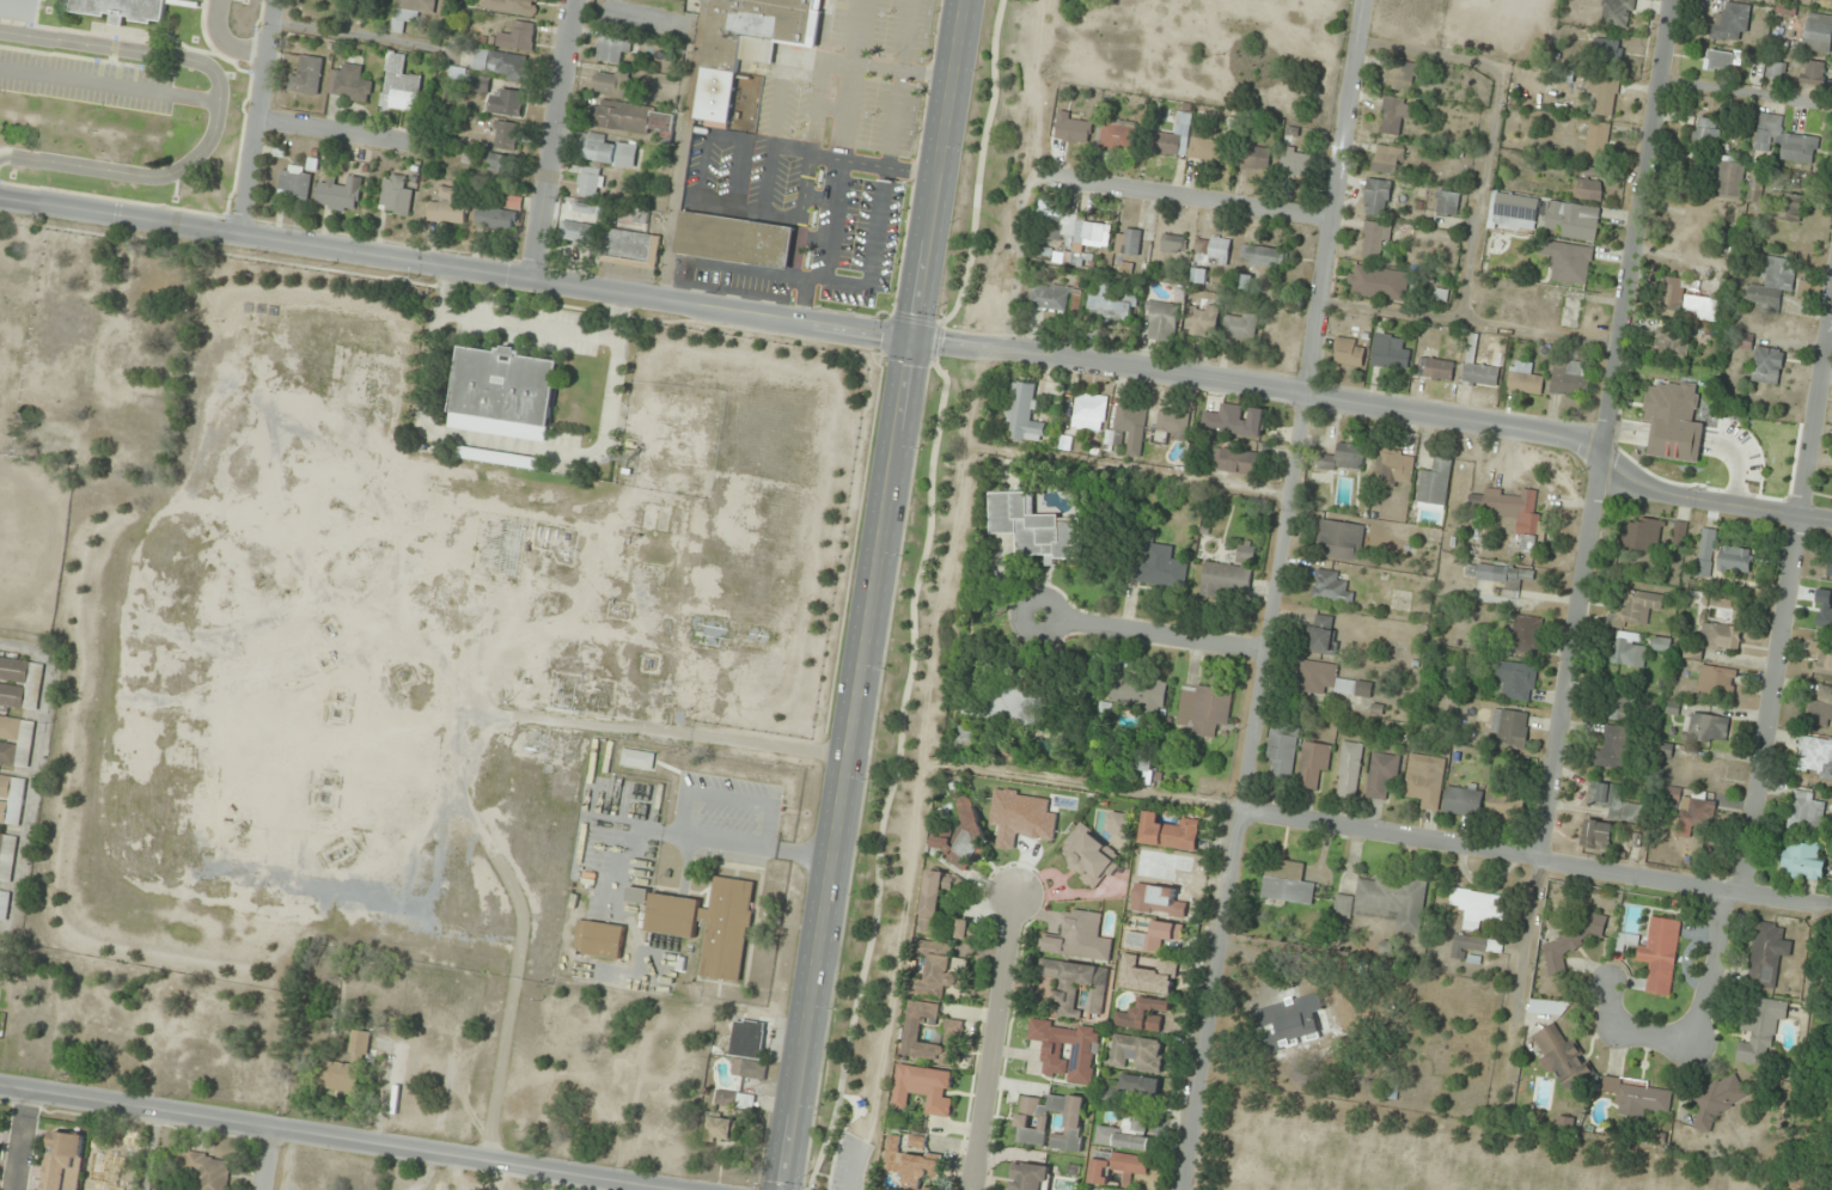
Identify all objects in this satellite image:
building: (1825, 0)
building: (513, 6)
building: (16, 10)
building: (122, 10)
building: (410, 12)
building: (1617, 13)
building: (1730, 24)
building: (1818, 32)
building: (518, 37)
road: (224, 43)
building: (750, 44)
building: (612, 49)
building: (1607, 49)
building: (1722, 60)
building: (501, 65)
building: (1776, 71)
building: (306, 73)
building: (1813, 73)
building: (457, 74)
building: (1400, 75)
building: (350, 84)
building: (478, 84)
building: (612, 84)
building: (399, 85)
building: (1605, 98)
building: (507, 102)
road: (218, 108)
road: (259, 115)
building: (1394, 115)
building: (633, 118)
building: (1070, 130)
road: (337, 133)
building: (1706, 133)
building: (1118, 135)
building: (506, 136)
road: (560, 138)
building: (1598, 138)
building: (1784, 141)
building: (1171, 144)
building: (1208, 149)
building: (610, 151)
building: (1254, 157)
building: (1388, 160)
building: (1296, 163)
building: (499, 164)
road: (979, 166)
building: (1729, 181)
building: (294, 183)
building: (590, 183)
building: (1589, 191)
building: (340, 194)
building: (395, 196)
building: (1376, 197)
road: (1190, 201)
building: (1447, 205)
building: (447, 208)
building: (582, 208)
building: (1790, 208)
building: (1545, 218)
building: (495, 219)
building: (1054, 228)
building: (576, 232)
building: (734, 239)
building: (1087, 242)
building: (1128, 242)
building: (1374, 242)
building: (1172, 244)
building: (633, 249)
building: (1215, 251)
building: (1263, 256)
building: (1569, 263)
building: (1199, 276)
building: (1771, 282)
building: (1379, 283)
road: (654, 295)
building: (1440, 295)
building: (1673, 297)
building: (1049, 298)
building: (1110, 303)
building: (1700, 309)
building: (1164, 317)
building: (1202, 319)
building: (1239, 327)
traffic signals: (915, 340)
road: (936, 341)
building: (1671, 344)
building: (1349, 352)
building: (1390, 353)
building: (1767, 365)
building: (1480, 368)
building: (1436, 370)
building: (1570, 379)
building: (1525, 380)
building: (503, 393)
building: (1086, 414)
building: (1025, 415)
road: (1815, 416)
road: (1459, 419)
building: (1123, 423)
building: (1172, 423)
building: (1344, 459)
building: (1234, 460)
building: (1394, 468)
building: (1733, 468)
building: (1435, 484)
road: (1712, 502)
building: (1515, 515)
building: (1033, 527)
building: (1642, 533)
road: (1592, 537)
building: (1341, 541)
building: (1705, 553)
building: (1735, 560)
building: (1158, 566)
building: (1228, 574)
building: (1500, 575)
building: (1331, 587)
road: (874, 594)
road: (1277, 594)
building: (1638, 608)
building: (1323, 634)
building: (1526, 635)
road: (1155, 636)
building: (1721, 637)
building: (1661, 645)
building: (1629, 649)
building: (1692, 654)
building: (1821, 658)
building: (1331, 681)
building: (1515, 681)
building: (1717, 681)
building: (20, 683)
building: (1137, 690)
building: (1020, 696)
building: (1203, 708)
building: (1618, 708)
road: (1771, 708)
building: (1820, 709)
building: (1706, 727)
building: (1509, 728)
building: (965, 736)
building: (16, 742)
building: (1612, 747)
building: (1281, 755)
building: (1814, 757)
building: (637, 759)
building: (1147, 762)
building: (1313, 765)
building: (1349, 769)
road: (896, 775)
building: (1382, 776)
building: (1424, 781)
building: (326, 785)
building: (11, 800)
building: (1464, 800)
building: (1612, 800)
building: (1506, 805)
building: (1806, 811)
building: (1696, 814)
building: (1118, 823)
building: (1170, 832)
building: (1596, 835)
building: (961, 836)
building: (6, 858)
building: (1091, 858)
building: (1801, 861)
road: (1537, 862)
building: (1288, 884)
building: (637, 895)
building: (934, 901)
building: (1386, 903)
building: (4, 905)
building: (1478, 908)
building: (710, 924)
building: (963, 929)
building: (1155, 936)
building: (1080, 938)
building: (600, 939)
building: (1571, 941)
building: (1474, 945)
building: (1766, 953)
building: (1654, 956)
building: (940, 970)
building: (1076, 985)
building: (1549, 1007)
building: (1144, 1015)
building: (1299, 1019)
road: (1698, 1021)
building: (1760, 1030)
building: (952, 1031)
building: (749, 1036)
road: (988, 1041)
building: (1083, 1051)
building: (1138, 1052)
building: (1563, 1057)
building: (348, 1068)
building: (750, 1069)
building: (1141, 1086)
building: (926, 1088)
building: (1639, 1097)
building: (1717, 1098)
building: (735, 1100)
building: (1032, 1123)
building: (721, 1130)
building: (1126, 1135)
road: (332, 1137)
road: (17, 1141)
building: (917, 1142)
building: (68, 1145)
road: (267, 1159)
building: (911, 1165)
road: (853, 1167)
building: (1118, 1167)
building: (109, 1170)
building: (209, 1171)
building: (1030, 1177)
building: (927, 1189)

